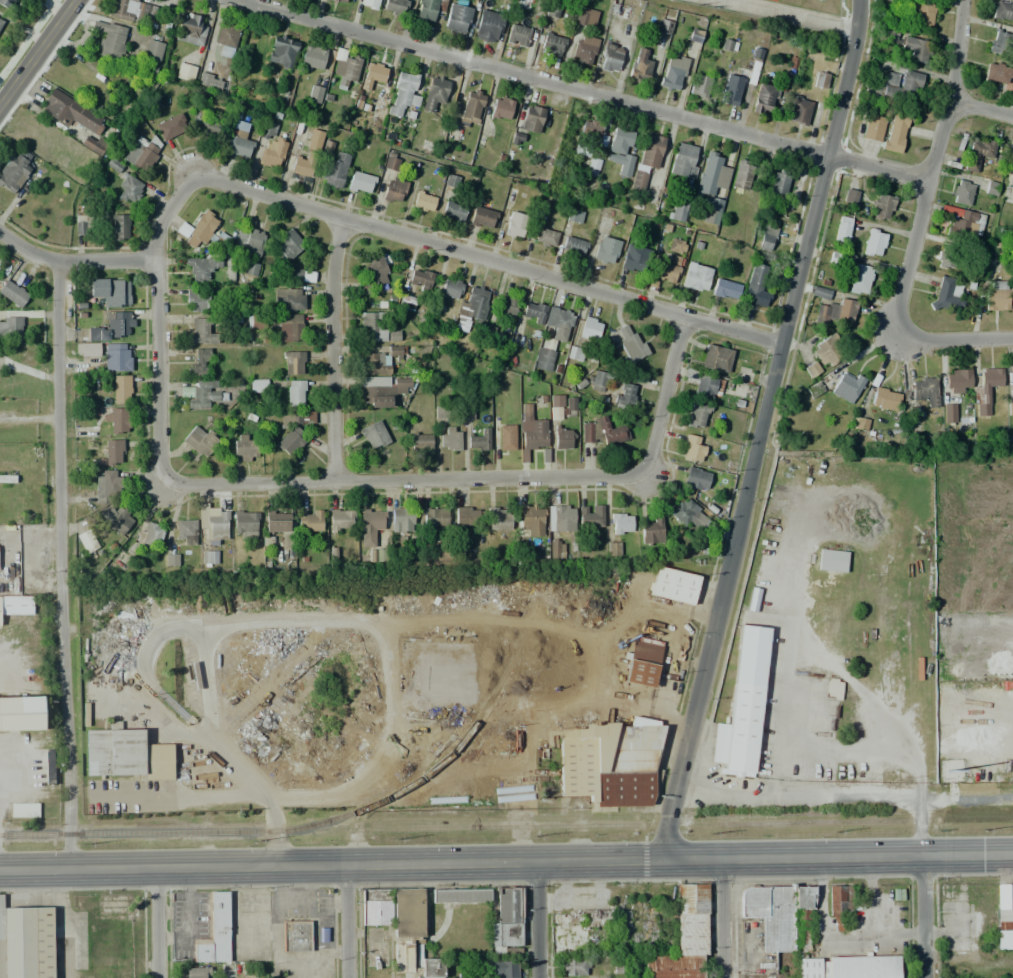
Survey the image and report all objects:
building: (341, 1)
building: (5, 3)
building: (367, 3)
building: (395, 7)
building: (429, 9)
building: (1003, 10)
building: (129, 11)
building: (922, 14)
building: (585, 16)
building: (458, 18)
building: (0, 21)
building: (488, 26)
building: (190, 30)
building: (888, 33)
building: (518, 35)
building: (227, 36)
building: (108, 39)
building: (1000, 42)
building: (552, 44)
road: (34, 47)
building: (584, 48)
building: (916, 48)
building: (152, 51)
building: (282, 52)
building: (313, 56)
building: (611, 58)
building: (639, 66)
building: (346, 68)
building: (186, 72)
building: (673, 72)
building: (996, 73)
building: (373, 75)
building: (820, 79)
building: (210, 81)
building: (701, 83)
building: (1012, 84)
building: (897, 85)
building: (731, 90)
road: (586, 91)
building: (402, 92)
building: (315, 93)
building: (434, 93)
building: (764, 97)
building: (472, 104)
road: (981, 107)
building: (501, 108)
building: (799, 110)
building: (70, 111)
building: (376, 111)
building: (531, 118)
building: (554, 125)
building: (170, 126)
building: (208, 127)
building: (874, 128)
building: (269, 130)
building: (594, 131)
building: (896, 131)
building: (315, 139)
building: (238, 144)
building: (92, 145)
building: (620, 150)
building: (650, 150)
building: (981, 150)
building: (142, 152)
building: (273, 153)
building: (685, 160)
building: (391, 162)
building: (303, 164)
building: (1012, 164)
building: (1012, 167)
building: (334, 170)
building: (13, 171)
road: (929, 171)
building: (712, 174)
building: (742, 174)
building: (638, 180)
building: (361, 182)
building: (450, 182)
building: (778, 183)
building: (129, 189)
building: (393, 190)
building: (962, 191)
building: (850, 197)
building: (424, 201)
building: (881, 207)
building: (453, 210)
building: (712, 210)
building: (679, 211)
building: (574, 215)
road: (339, 216)
building: (482, 217)
building: (970, 222)
building: (81, 224)
building: (516, 225)
building: (121, 227)
building: (183, 229)
building: (200, 229)
building: (841, 232)
building: (546, 237)
building: (767, 237)
building: (250, 239)
building: (871, 242)
building: (288, 245)
building: (573, 246)
building: (676, 246)
building: (606, 249)
building: (949, 254)
building: (634, 258)
road: (75, 260)
building: (203, 267)
building: (251, 269)
building: (664, 269)
building: (378, 273)
building: (297, 274)
building: (696, 277)
building: (420, 279)
building: (859, 279)
building: (450, 287)
building: (755, 288)
building: (726, 289)
building: (110, 291)
building: (13, 293)
building: (819, 293)
building: (945, 293)
building: (998, 296)
building: (291, 298)
building: (197, 300)
building: (406, 301)
building: (507, 304)
building: (472, 306)
building: (835, 310)
building: (533, 312)
building: (558, 318)
building: (374, 324)
building: (112, 326)
building: (290, 328)
building: (590, 328)
building: (10, 329)
building: (198, 332)
building: (490, 335)
building: (393, 336)
road: (950, 340)
building: (630, 343)
building: (87, 349)
road: (333, 349)
building: (827, 350)
building: (574, 353)
building: (544, 355)
building: (116, 357)
building: (716, 357)
building: (383, 360)
building: (294, 362)
building: (200, 364)
building: (1012, 376)
building: (598, 379)
building: (957, 380)
building: (847, 385)
building: (257, 386)
building: (705, 388)
building: (119, 389)
building: (381, 390)
building: (922, 390)
building: (986, 391)
building: (295, 392)
building: (200, 393)
building: (624, 394)
building: (883, 399)
building: (556, 400)
building: (569, 404)
building: (1009, 410)
building: (948, 413)
building: (698, 416)
building: (297, 417)
building: (118, 419)
building: (856, 424)
road: (761, 430)
building: (532, 431)
building: (602, 432)
building: (374, 435)
building: (506, 437)
building: (449, 438)
building: (563, 438)
building: (200, 440)
building: (479, 440)
building: (291, 441)
building: (420, 442)
building: (244, 449)
building: (691, 449)
building: (113, 452)
road: (483, 478)
building: (696, 478)
building: (107, 483)
building: (2, 498)
building: (17, 503)
building: (685, 512)
building: (435, 516)
building: (467, 516)
building: (114, 517)
building: (499, 518)
building: (560, 518)
building: (341, 519)
building: (309, 520)
building: (403, 520)
building: (529, 521)
building: (212, 522)
building: (588, 522)
building: (620, 523)
building: (245, 524)
building: (369, 524)
building: (281, 526)
building: (650, 530)
building: (185, 532)
building: (150, 534)
building: (87, 541)
building: (412, 549)
building: (556, 550)
building: (442, 551)
building: (377, 555)
building: (171, 560)
building: (832, 560)
road: (59, 564)
building: (673, 585)
building: (15, 604)
building: (642, 663)
building: (833, 688)
building: (740, 705)
building: (21, 713)
building: (126, 755)
building: (610, 760)
building: (49, 764)
railway: (425, 775)
road: (825, 795)
road: (964, 795)
building: (24, 809)
railway: (687, 815)
railway: (869, 822)
railway: (491, 827)
power tower: (982, 830)
railway: (129, 832)
power tower: (709, 832)
power tower: (834, 832)
power tower: (534, 836)
power tower: (259, 839)
power tower: (397, 839)
power tower: (87, 843)
road: (506, 862)
building: (460, 895)
building: (836, 904)
building: (376, 906)
building: (771, 915)
building: (1004, 915)
building: (590, 917)
road: (721, 918)
building: (802, 918)
road: (927, 918)
building: (692, 919)
road: (537, 920)
road: (353, 921)
road: (156, 923)
building: (507, 923)
building: (408, 924)
building: (214, 934)
building: (322, 935)
building: (296, 936)
building: (25, 942)
building: (576, 966)
building: (428, 967)
building: (673, 967)
building: (863, 967)
building: (812, 968)
building: (502, 969)
building: (197, 973)

